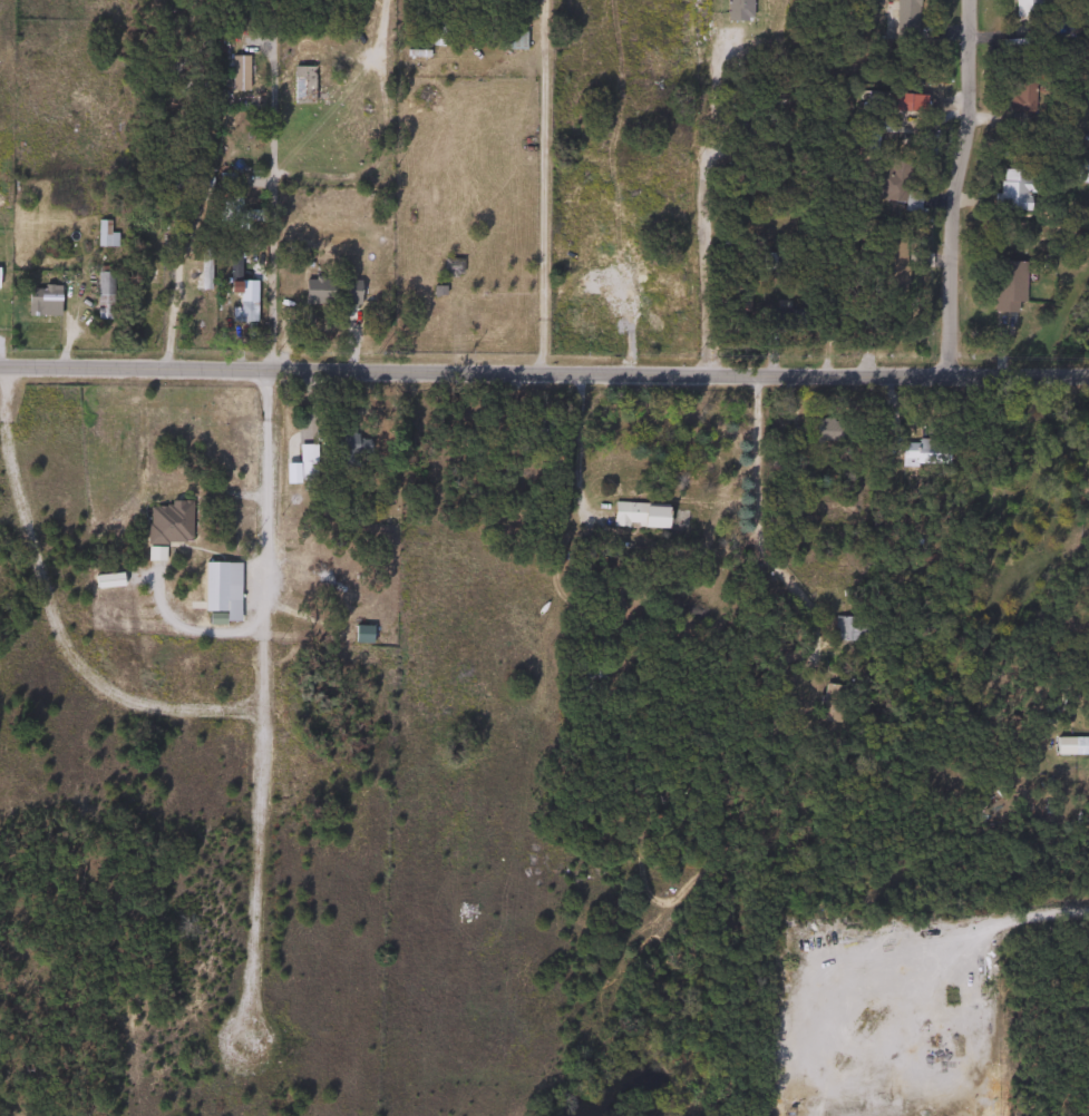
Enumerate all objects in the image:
building: (1025, 9)
building: (737, 10)
building: (905, 17)
building: (239, 72)
road: (271, 85)
building: (301, 85)
building: (1020, 91)
building: (876, 101)
road: (381, 145)
building: (891, 182)
road: (957, 186)
road: (542, 187)
building: (1011, 189)
road: (699, 219)
building: (103, 235)
building: (560, 244)
building: (449, 266)
road: (270, 272)
building: (1005, 285)
building: (572, 286)
building: (100, 295)
road: (173, 300)
building: (41, 301)
building: (245, 312)
road: (544, 373)
building: (830, 430)
building: (534, 431)
road: (577, 440)
building: (344, 443)
building: (922, 452)
building: (304, 462)
road: (757, 497)
building: (639, 516)
building: (166, 522)
road: (265, 536)
building: (213, 587)
road: (54, 610)
building: (849, 629)
road: (194, 632)
building: (360, 635)
building: (1085, 674)
building: (589, 676)
building: (835, 703)
building: (1061, 747)
road: (256, 868)
road: (1054, 911)

